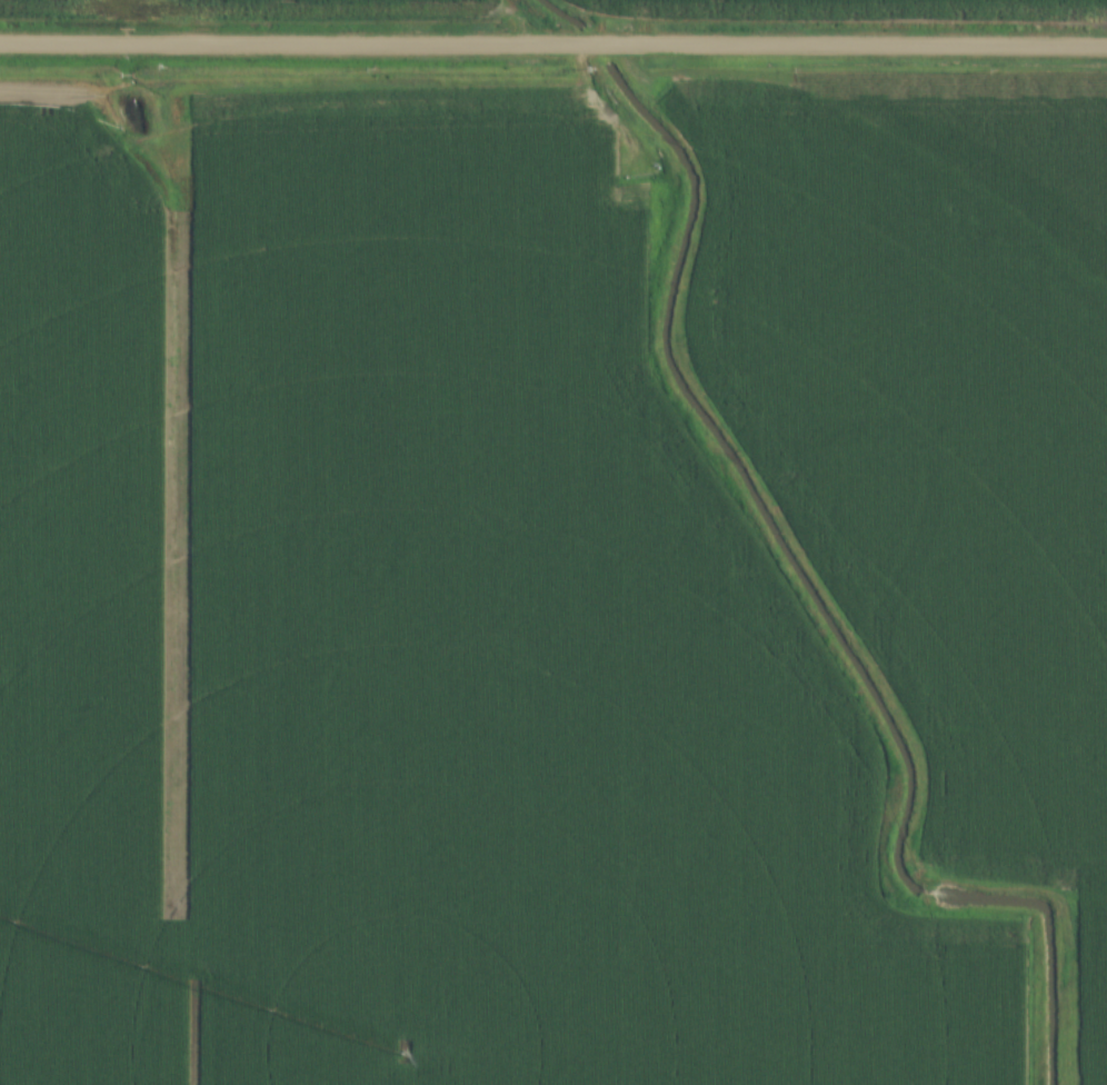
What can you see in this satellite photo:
crop: (225, 4)
road: (553, 44)
crop: (935, 426)
crop: (411, 640)

